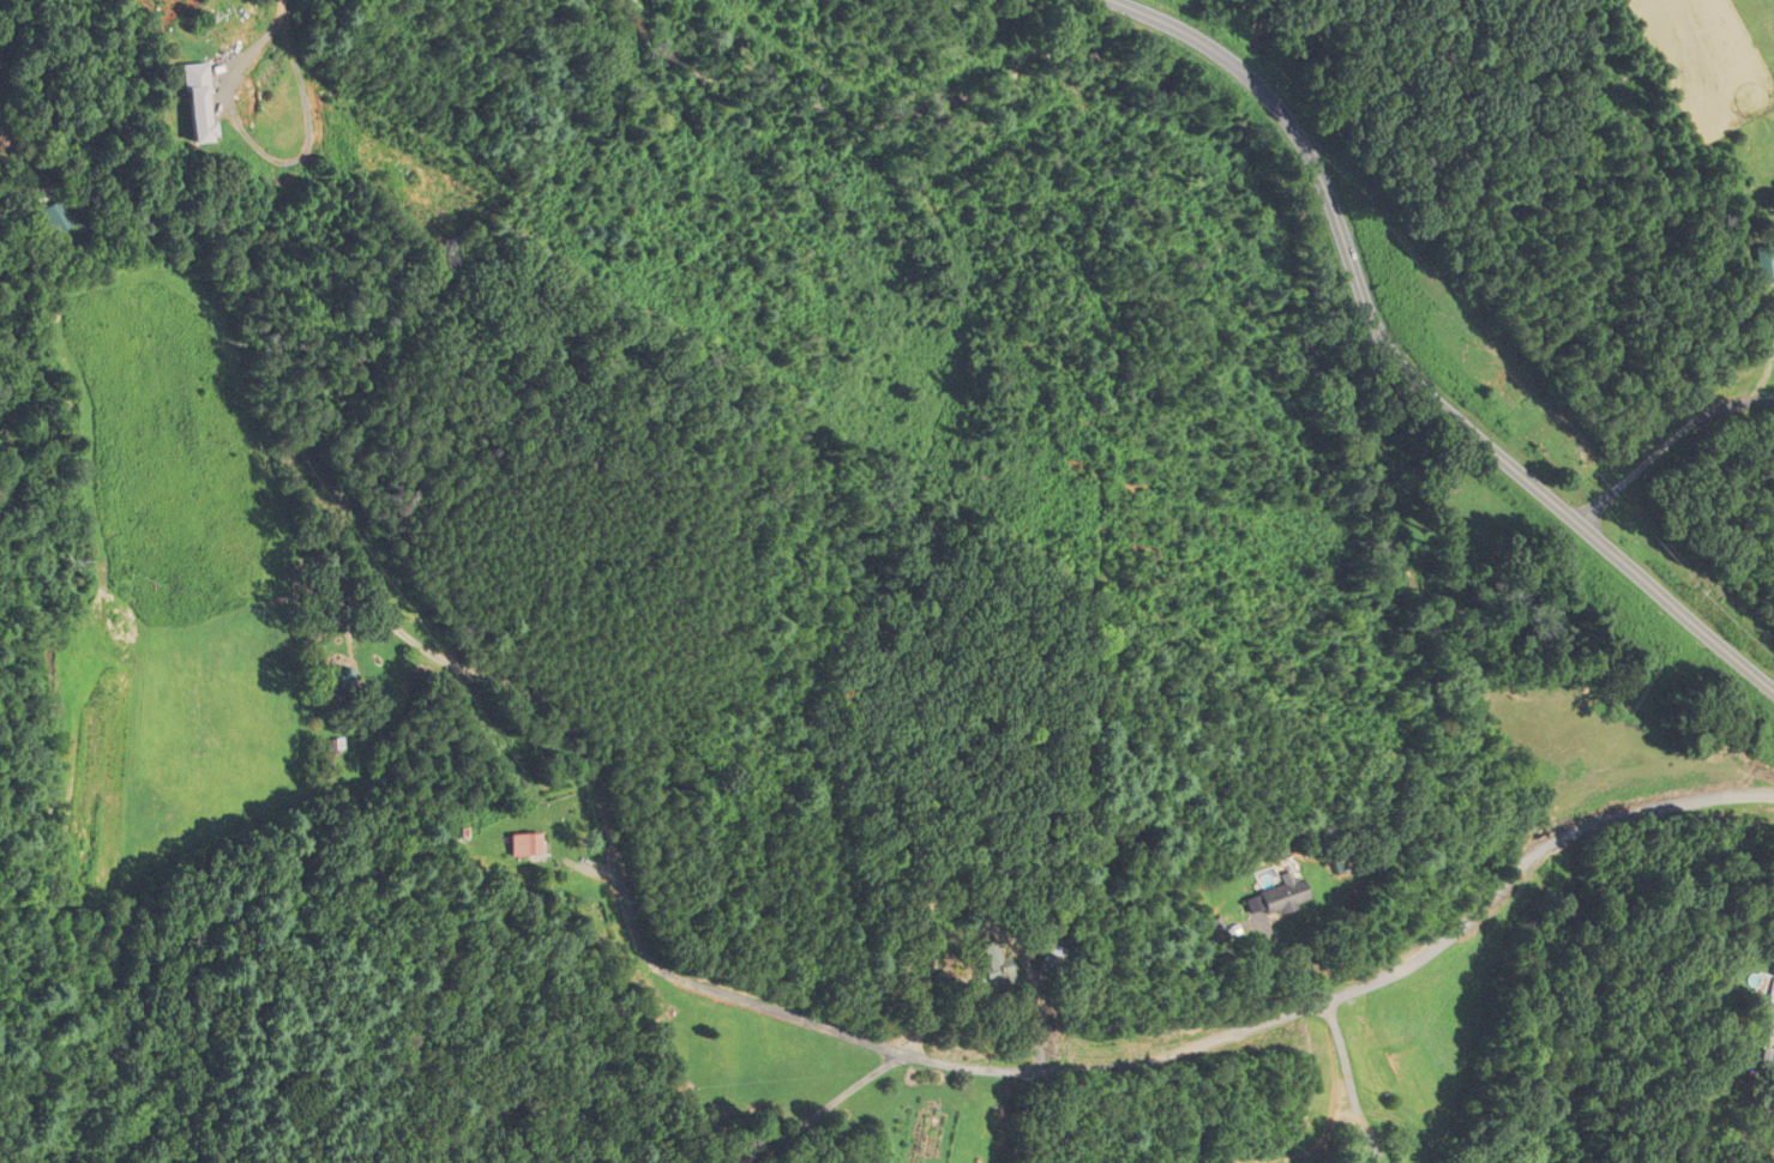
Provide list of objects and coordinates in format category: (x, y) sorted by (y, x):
road: (8, 29)
road: (261, 40)
building: (198, 102)
building: (54, 219)
building: (1764, 263)
road: (1400, 366)
road: (1680, 429)
building: (341, 680)
building: (522, 845)
building: (1276, 897)
building: (994, 977)
building: (1769, 993)
road: (1204, 1042)
road: (1348, 1079)
road: (824, 1109)

